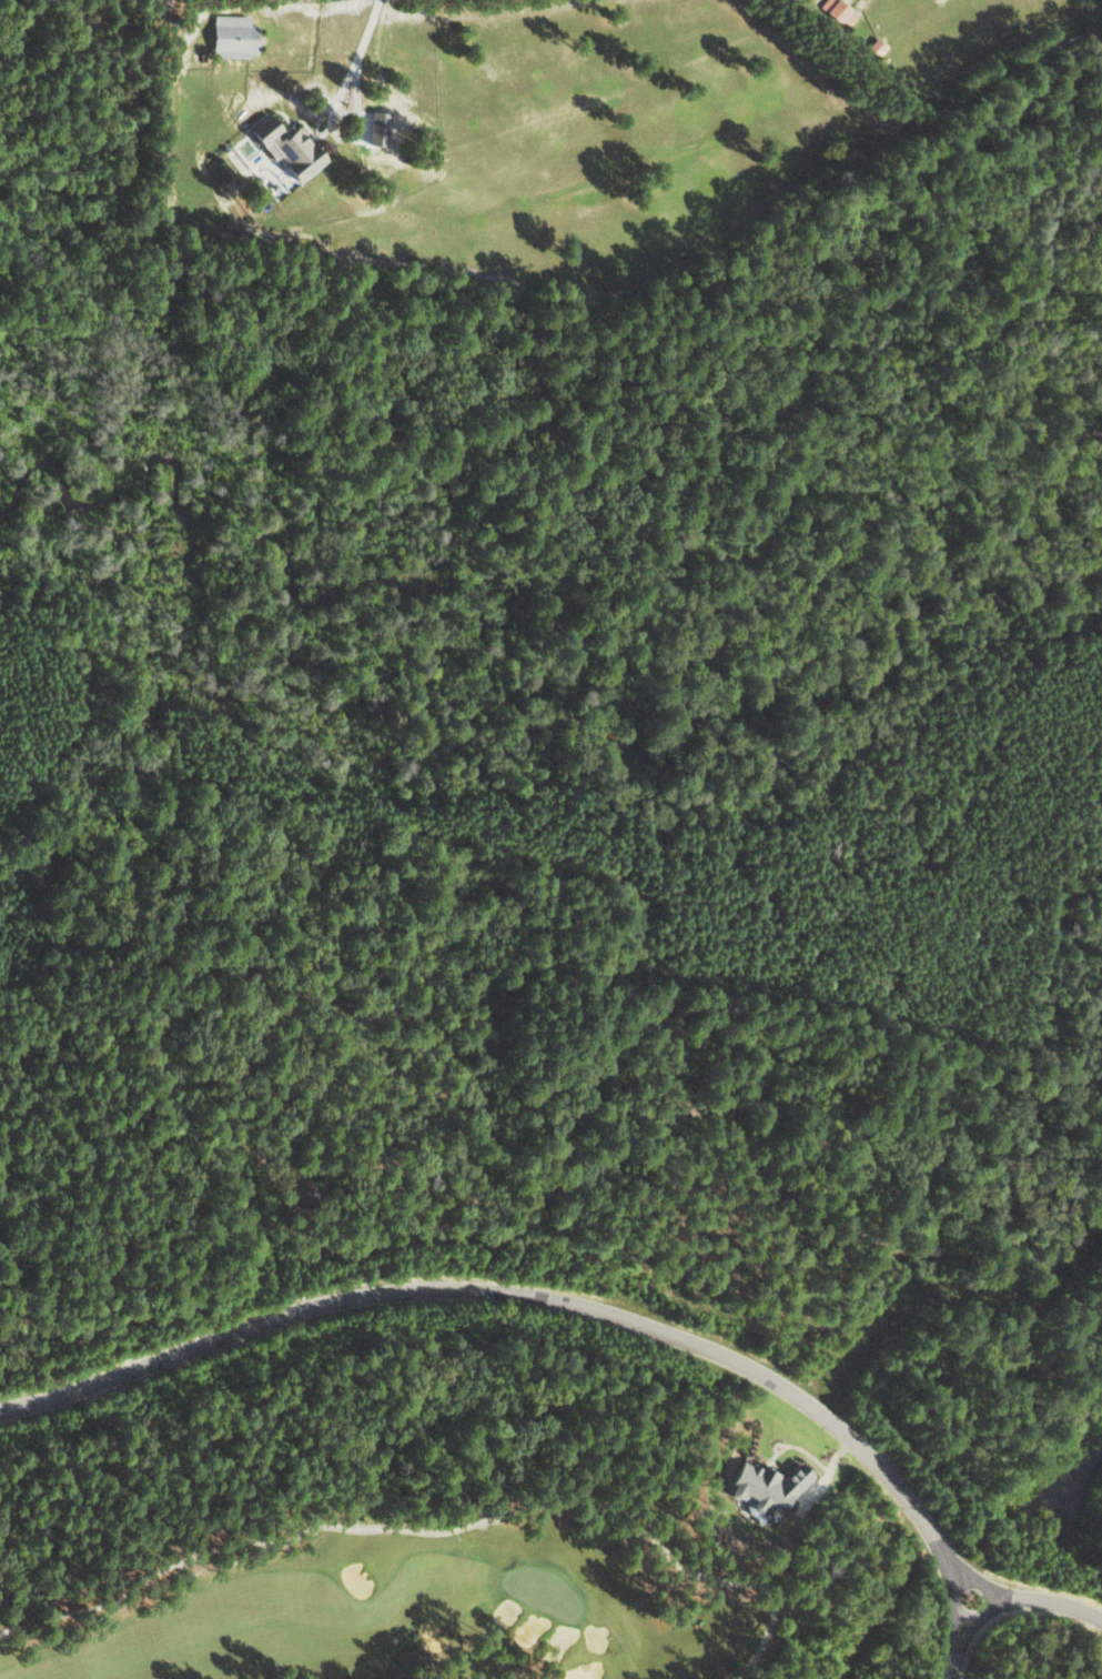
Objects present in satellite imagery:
building: (837, 11)
building: (231, 36)
building: (874, 47)
road: (360, 50)
building: (286, 147)
road: (499, 1294)
building: (762, 1488)
road: (948, 1562)
road: (938, 1570)
road: (993, 1590)
road: (979, 1592)
park: (418, 1602)
road: (995, 1603)
road: (1059, 1608)
road: (946, 1632)
road: (957, 1638)
road: (940, 1669)

